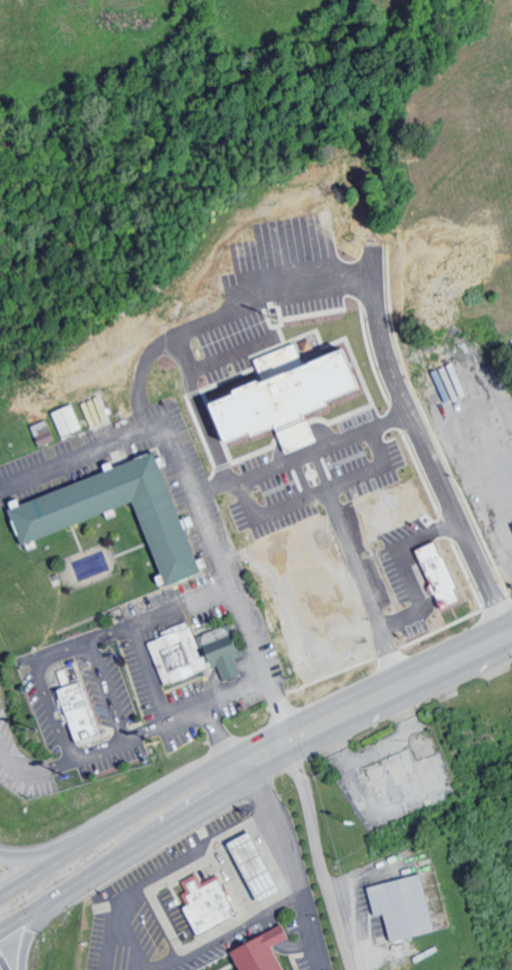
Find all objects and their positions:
road: (274, 295)
building: (268, 394)
road: (503, 411)
building: (63, 420)
road: (374, 436)
road: (193, 495)
road: (503, 504)
building: (36, 527)
building: (433, 575)
building: (189, 656)
road: (38, 664)
road: (147, 673)
road: (105, 689)
building: (72, 712)
road: (2, 730)
road: (214, 730)
road: (250, 743)
road: (81, 757)
road: (250, 780)
road: (279, 834)
road: (67, 842)
road: (316, 847)
building: (259, 867)
road: (164, 871)
building: (212, 906)
building: (399, 907)
road: (231, 930)
road: (311, 931)
road: (25, 936)
road: (111, 939)
building: (264, 952)

